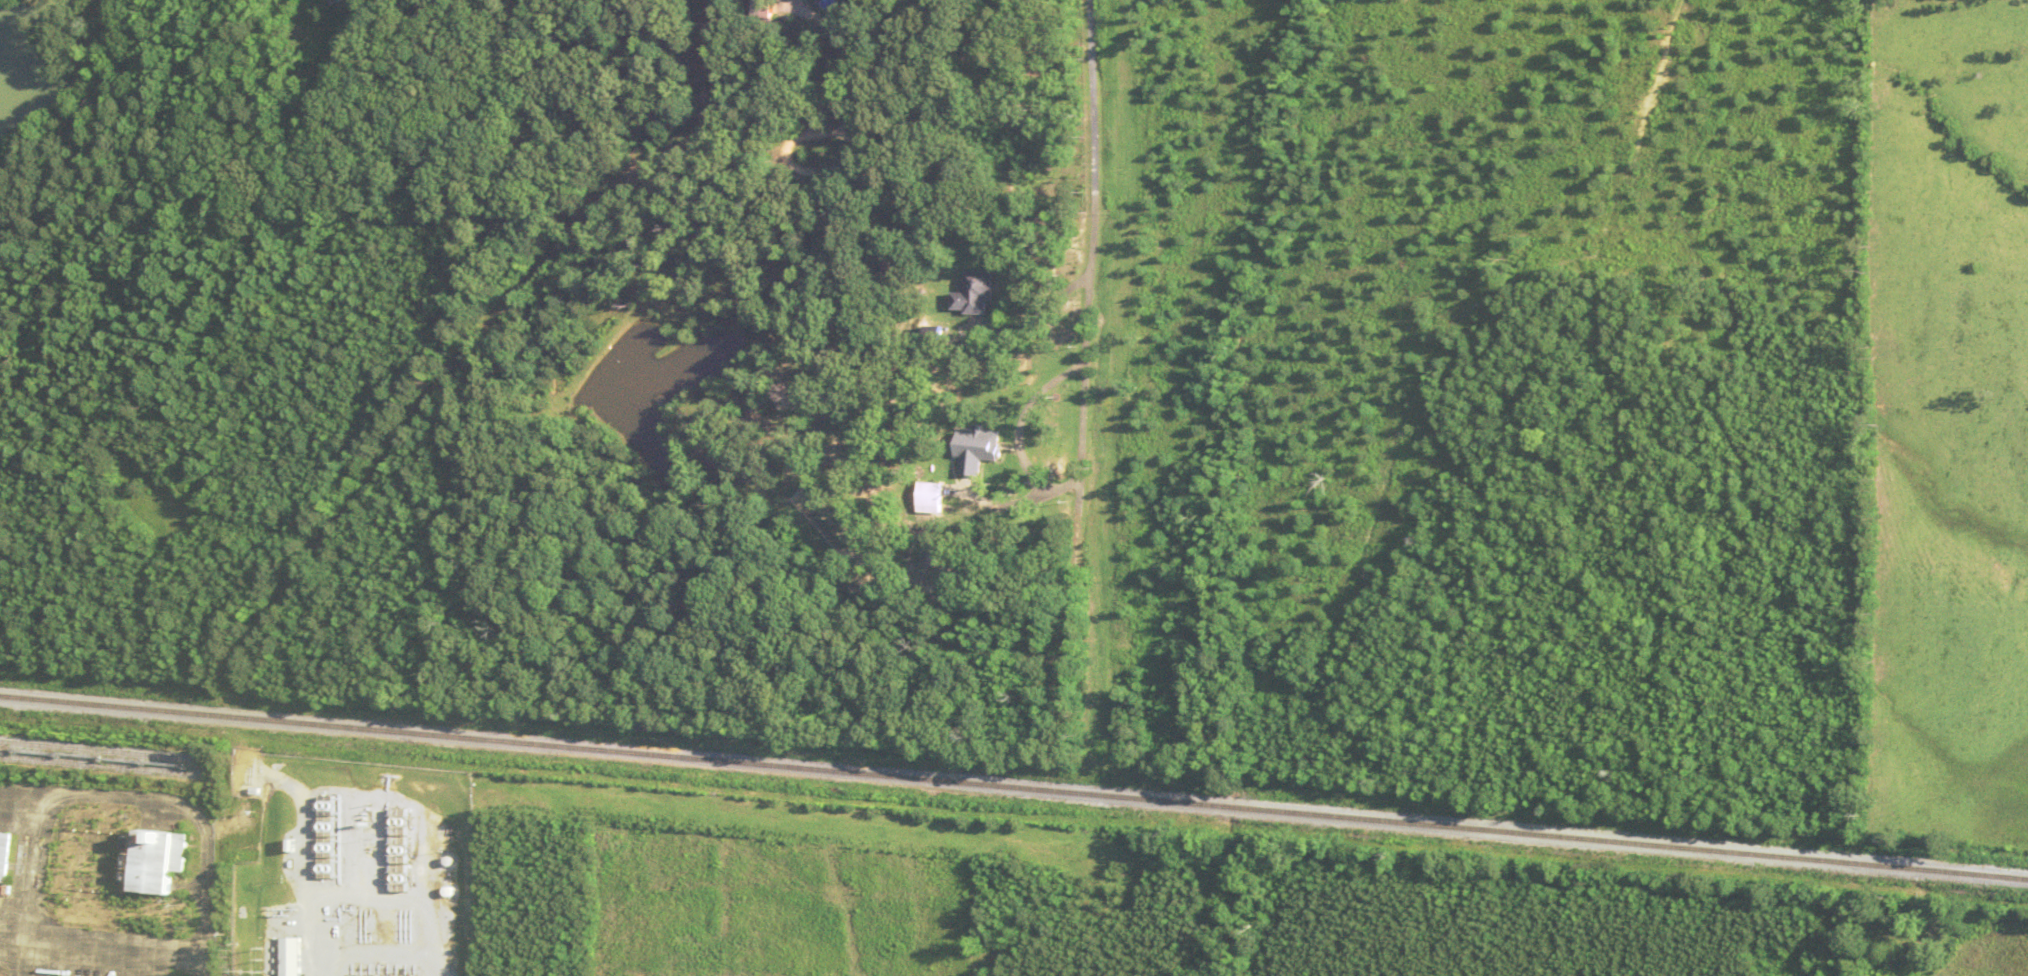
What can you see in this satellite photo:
building: (767, 8)
road: (1090, 251)
building: (977, 291)
building: (980, 447)
building: (932, 496)
railway: (103, 750)
railway: (102, 764)
railway: (1014, 784)
building: (331, 825)
building: (4, 854)
building: (159, 860)
building: (294, 956)

